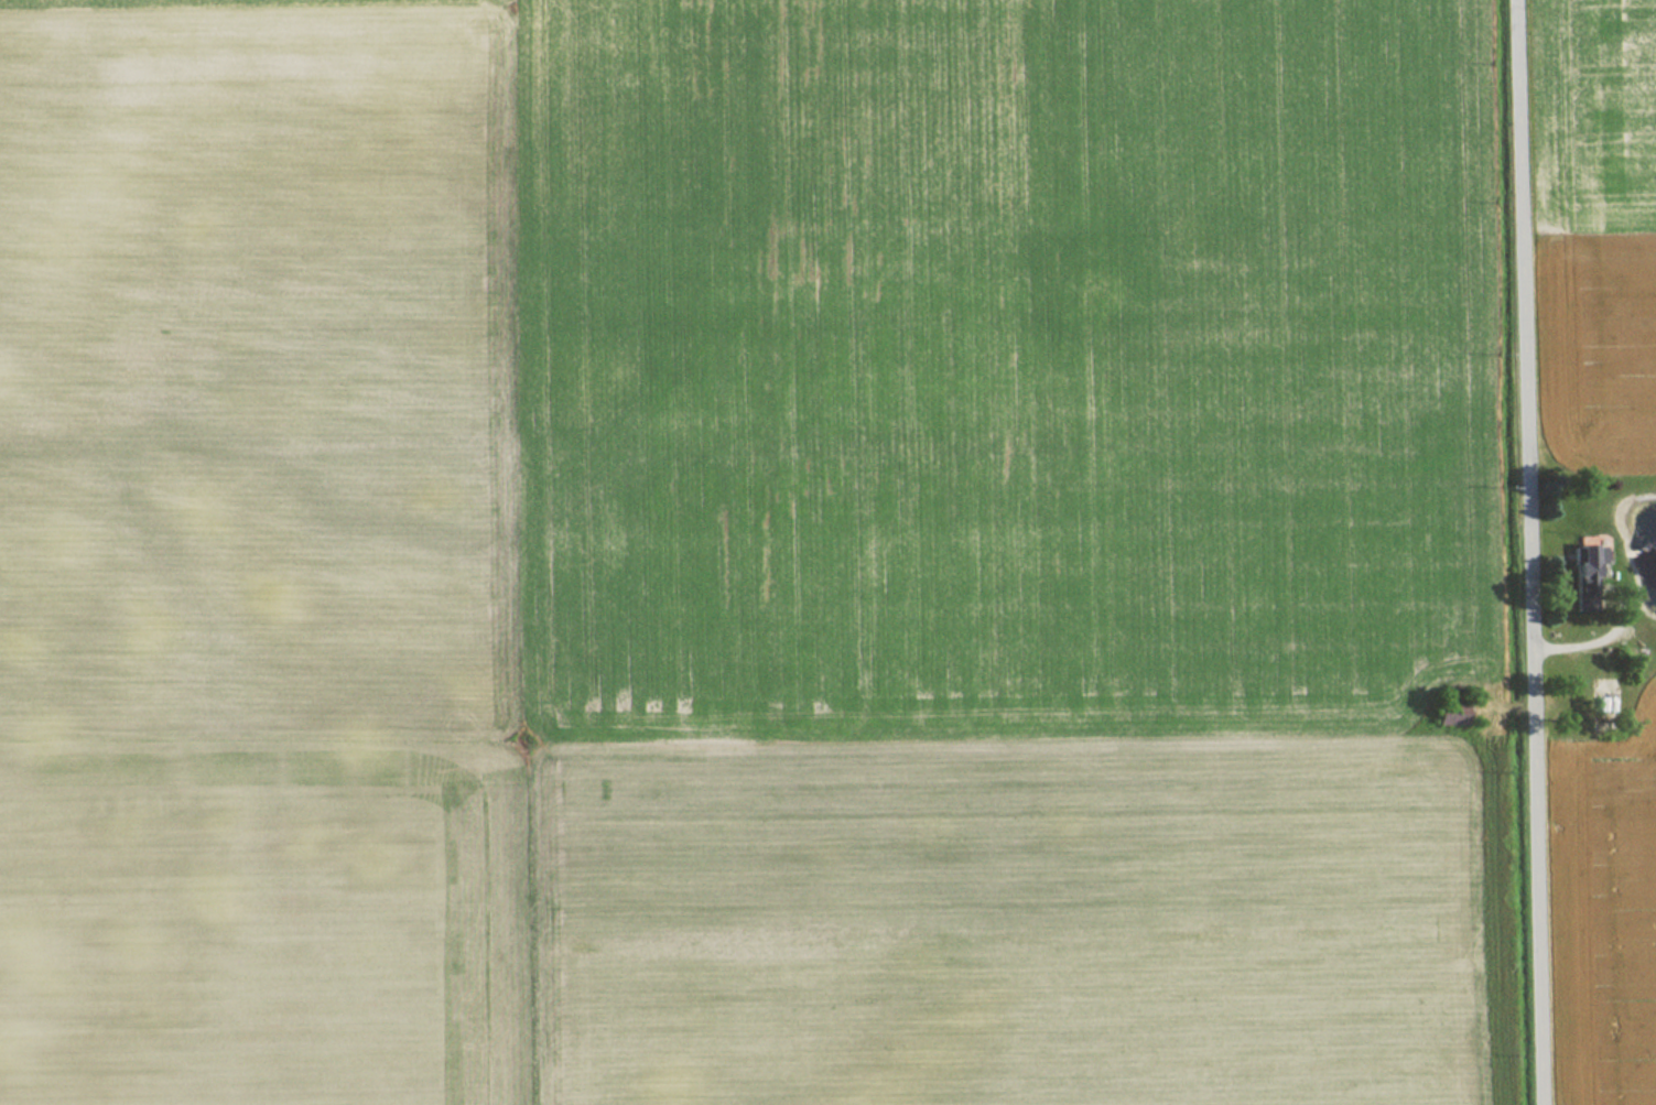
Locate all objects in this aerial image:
crop: (1603, 226)
crop: (743, 552)
road: (1529, 552)
crop: (1612, 917)

